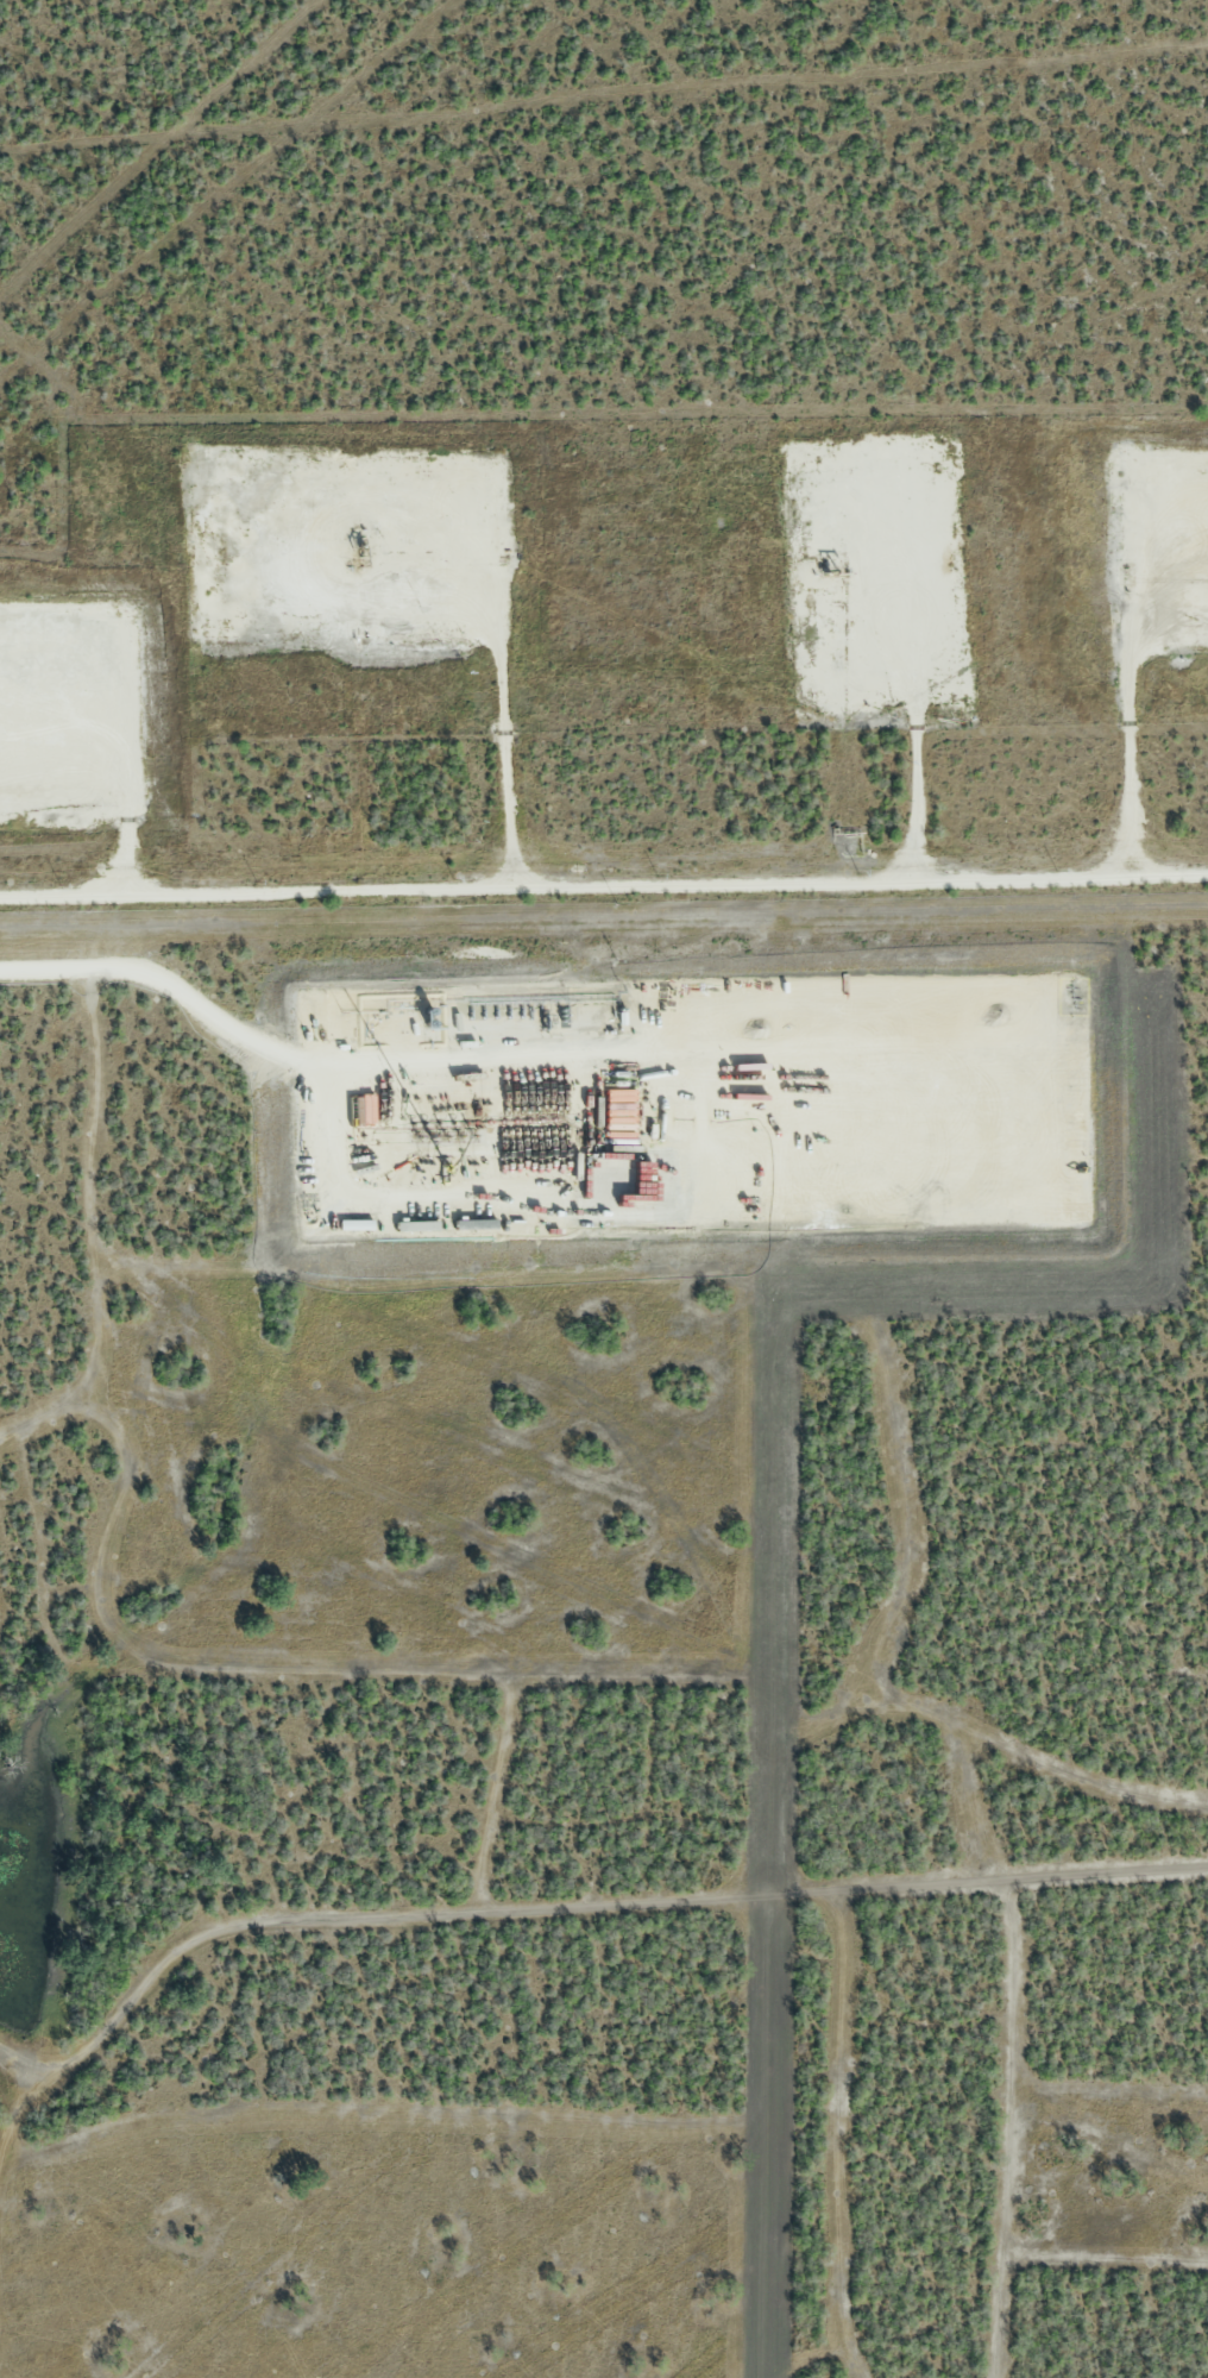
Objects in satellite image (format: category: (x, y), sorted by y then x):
road: (502, 740)
road: (914, 786)
road: (604, 879)

